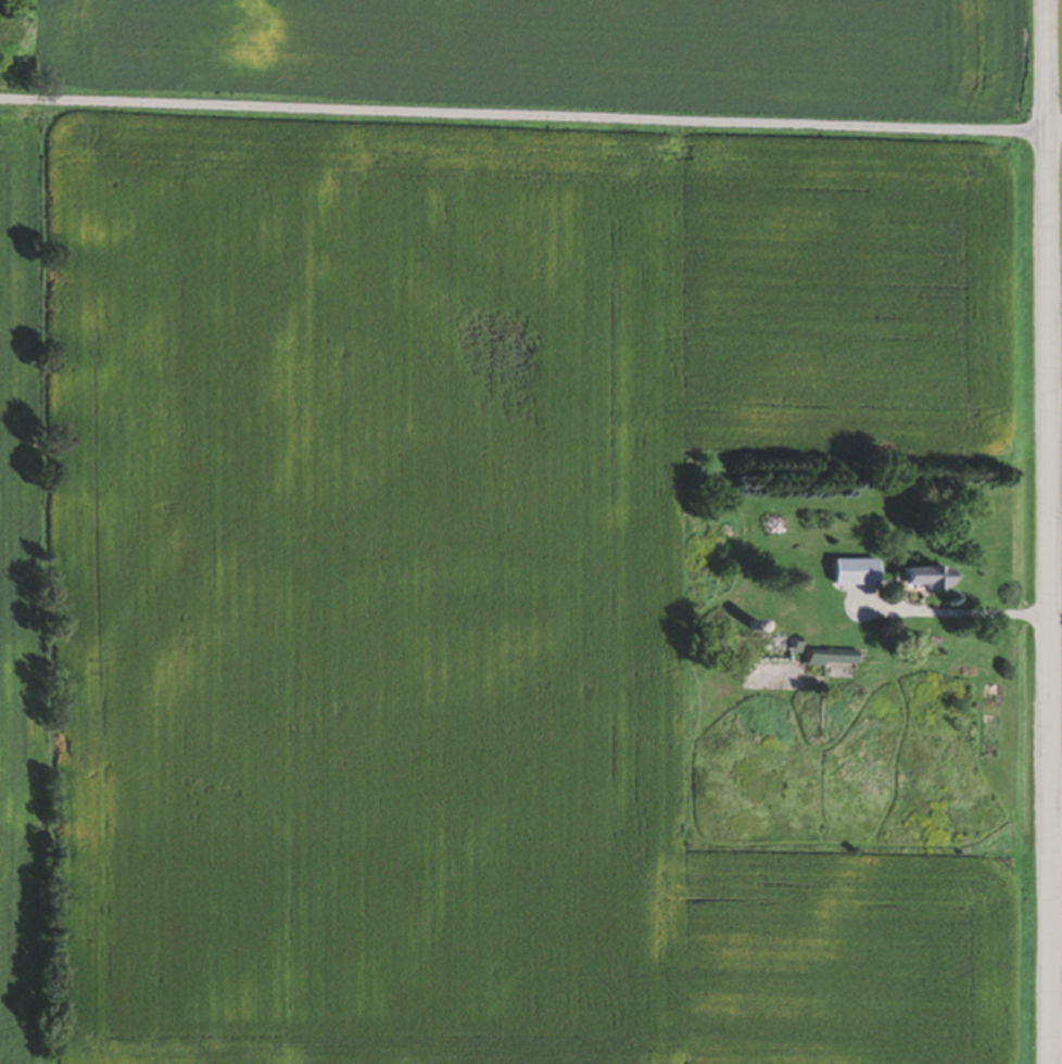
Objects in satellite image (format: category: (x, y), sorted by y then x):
quarry: (21, 50)
road: (522, 116)
road: (1053, 119)
road: (1048, 531)
building: (849, 577)
building: (921, 582)
road: (987, 615)
building: (827, 662)

